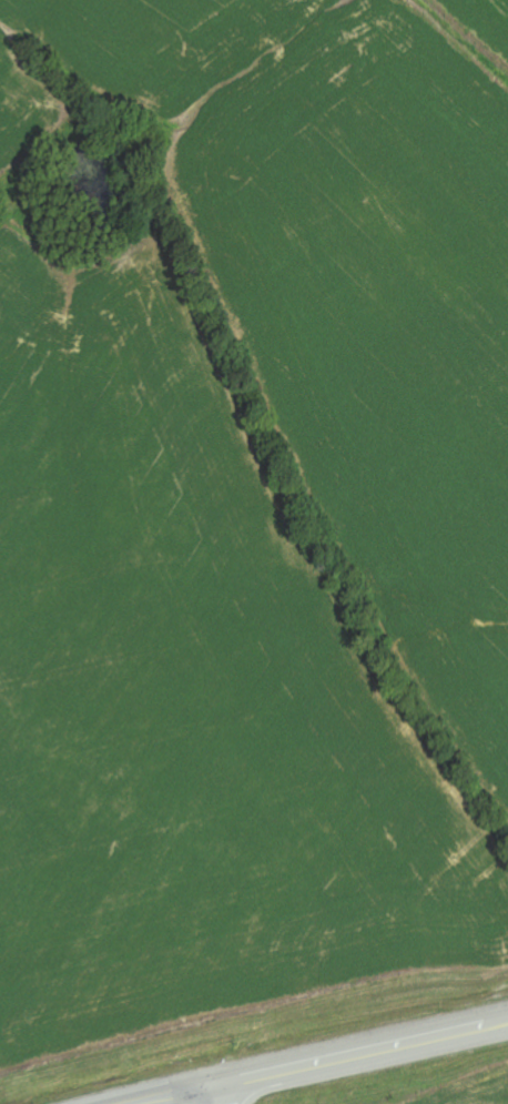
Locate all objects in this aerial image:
road: (358, 1053)
road: (171, 1095)
road: (211, 1095)

